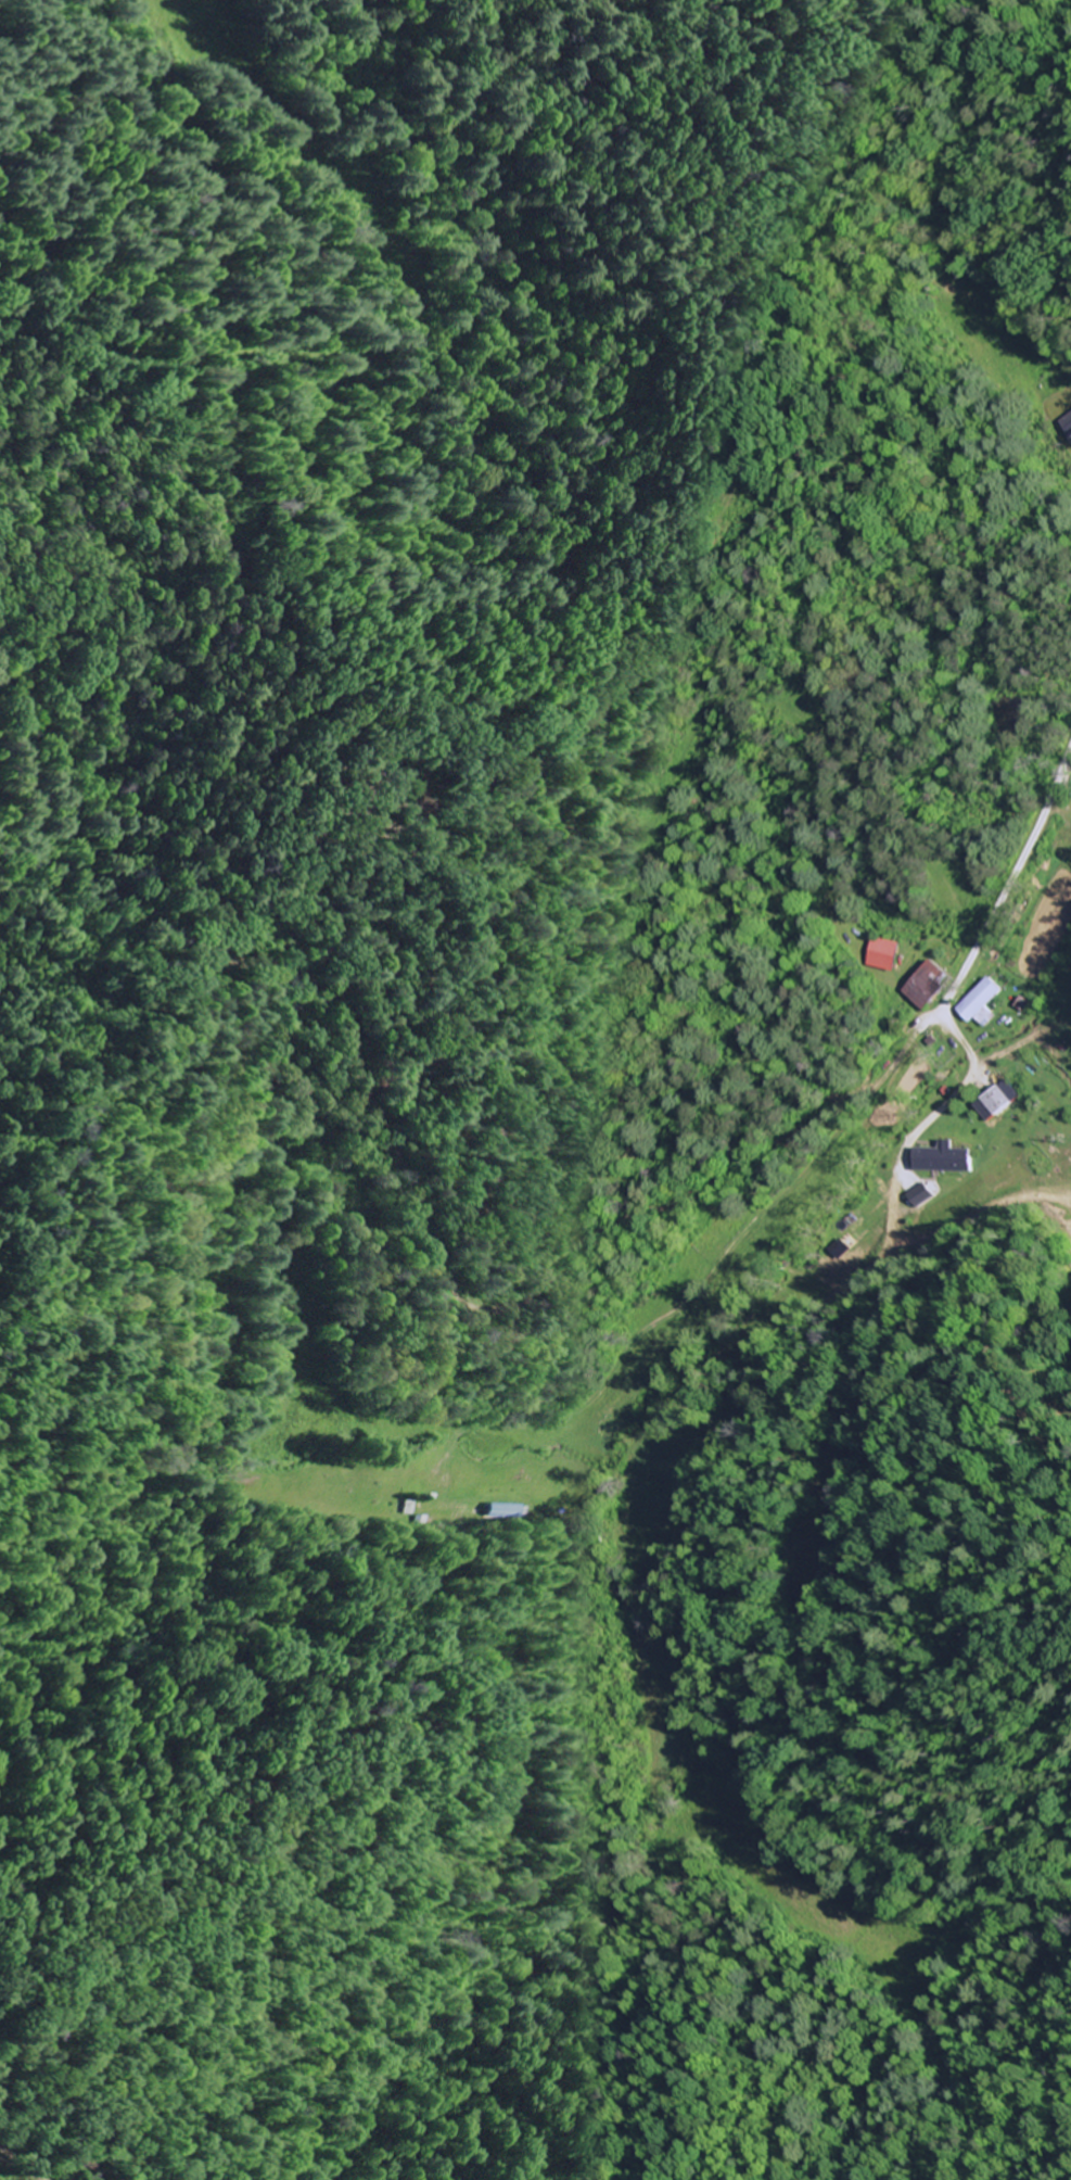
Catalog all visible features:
building: (1067, 424)
road: (1010, 880)
building: (884, 955)
building: (930, 987)
building: (982, 1004)
road: (373, 1062)
building: (998, 1102)
building: (944, 1161)
building: (918, 1197)
road: (51, 2135)

